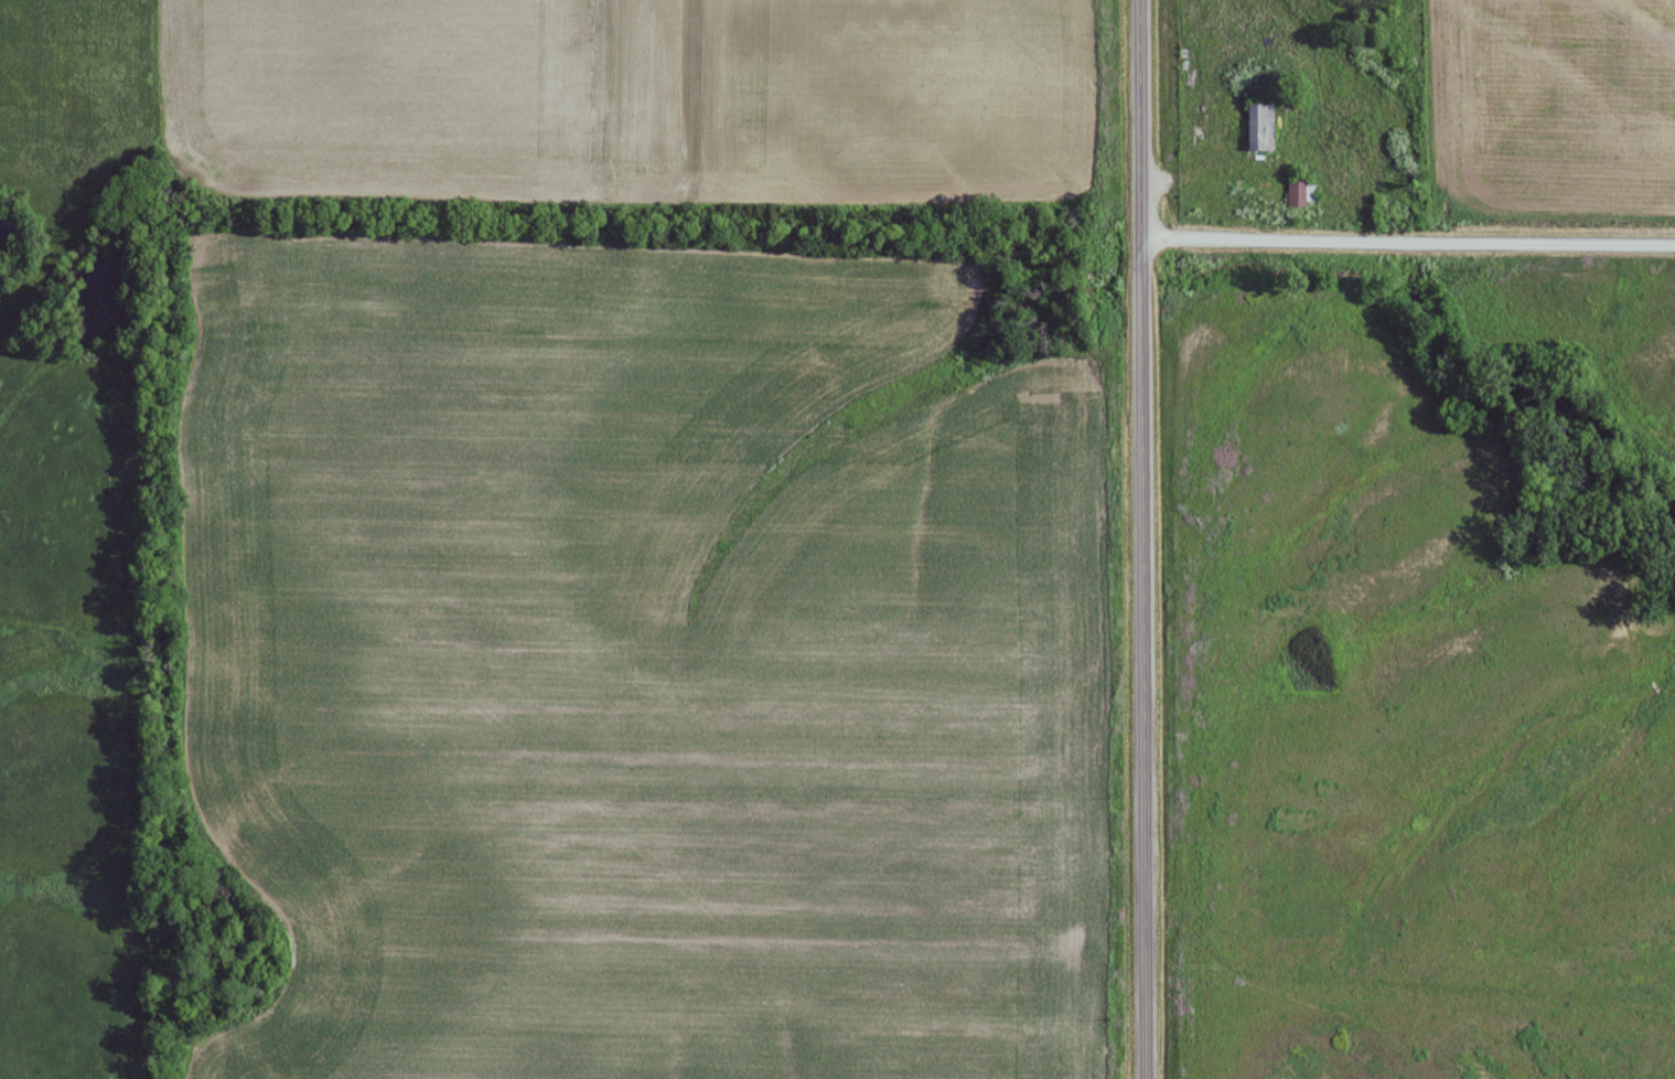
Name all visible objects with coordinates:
building: (1245, 76)
building: (1259, 126)
road: (1408, 242)
road: (1145, 538)

